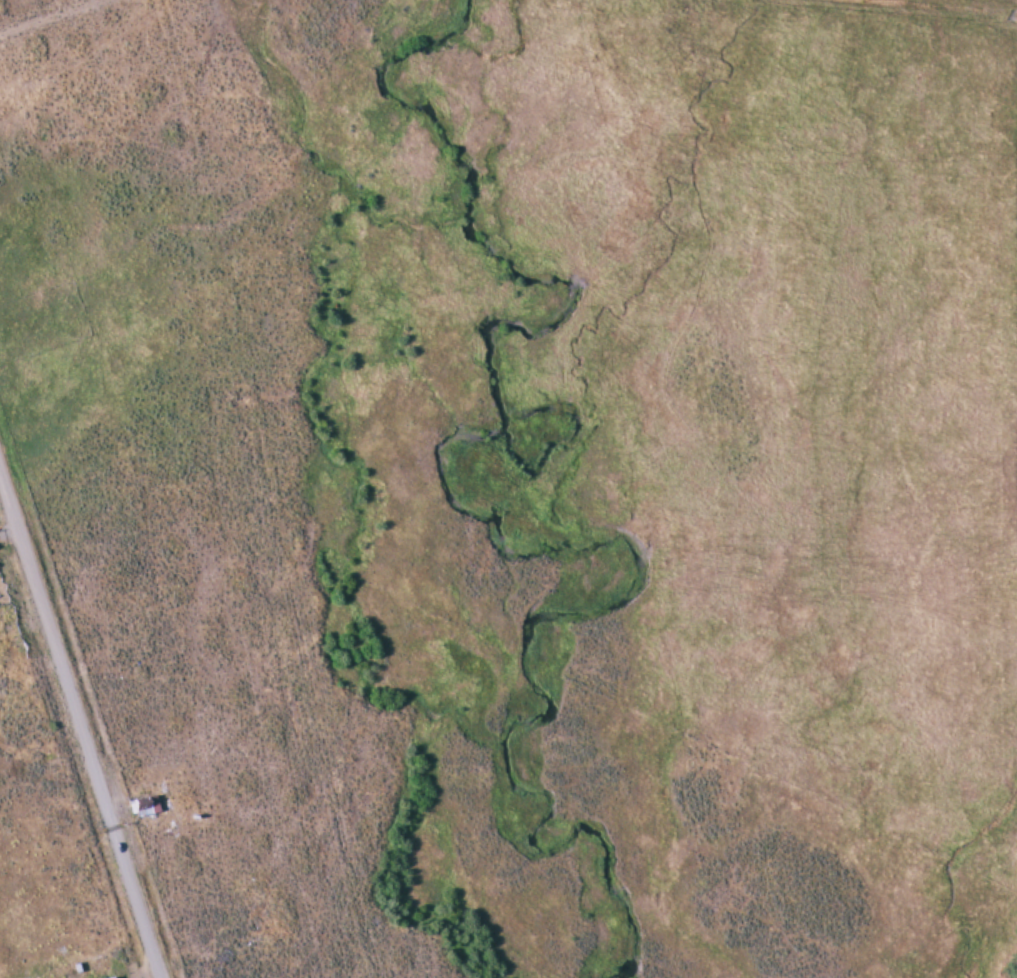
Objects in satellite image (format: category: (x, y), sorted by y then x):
road: (51, 17)
road: (80, 727)

